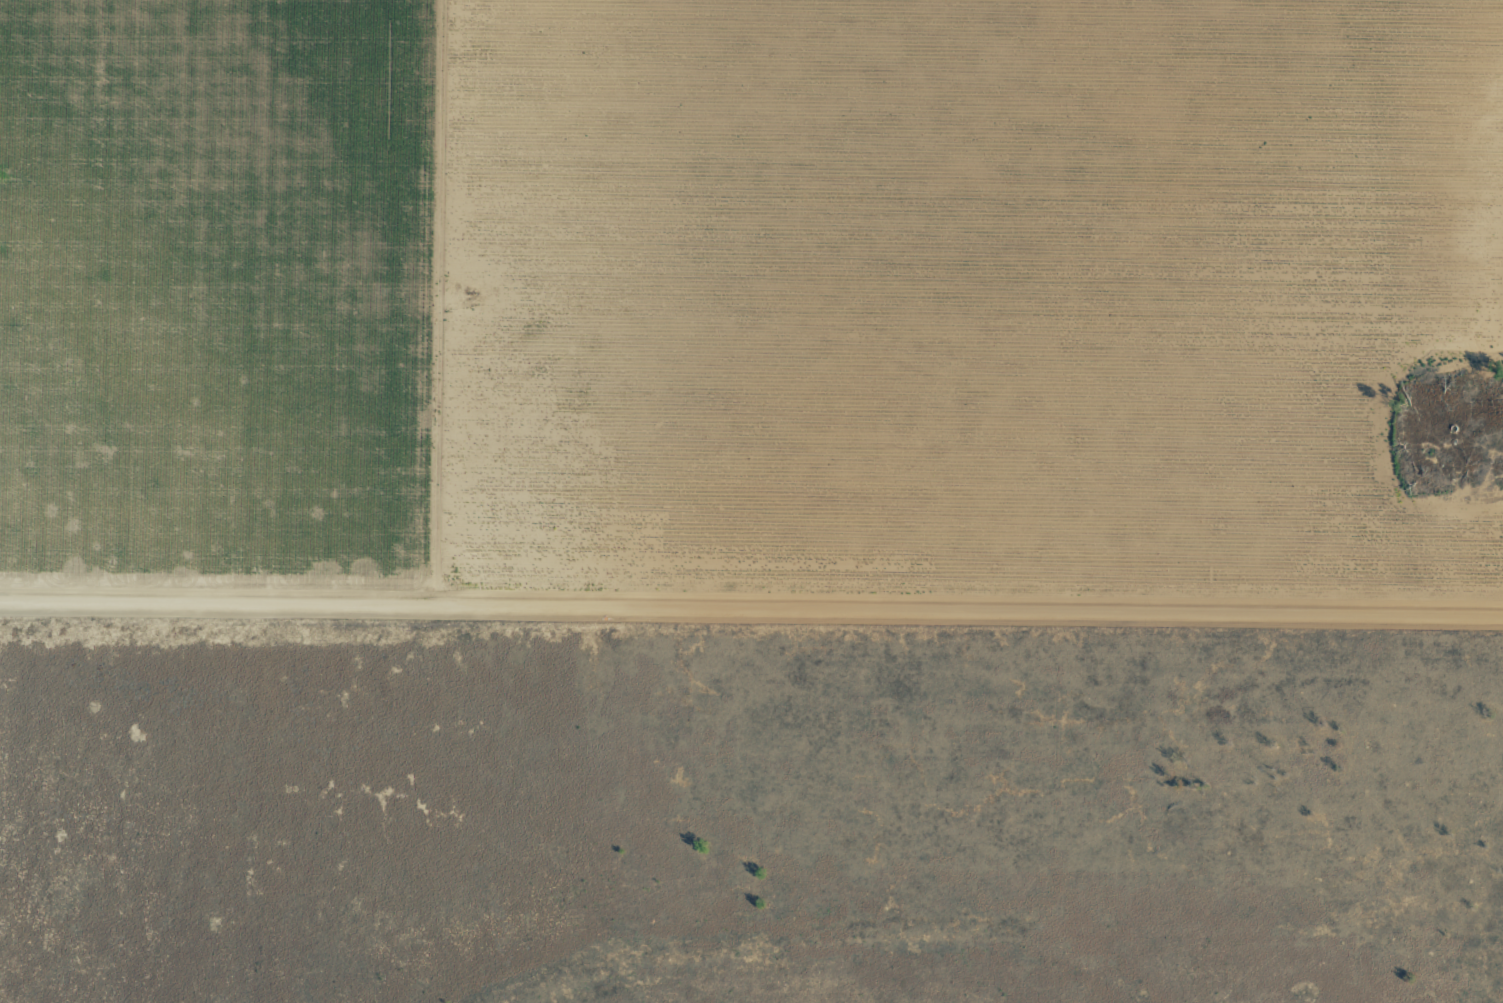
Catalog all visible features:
road: (466, 304)
road: (751, 610)

